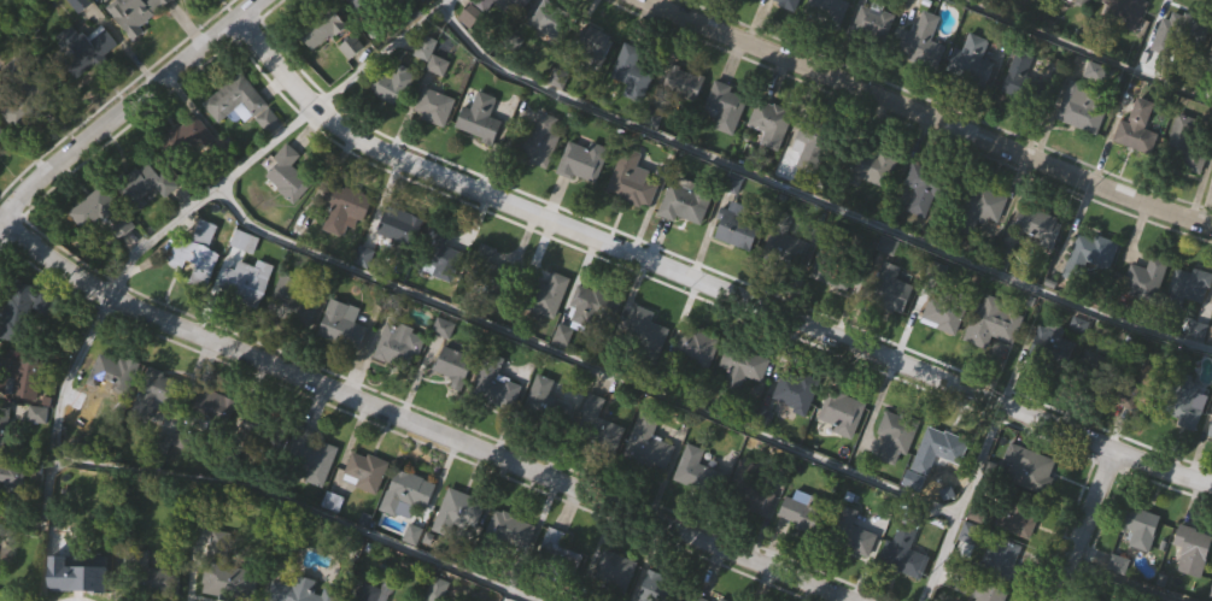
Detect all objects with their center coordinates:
building: (1025, 0)
building: (1081, 1)
building: (519, 2)
building: (786, 2)
building: (362, 4)
building: (485, 5)
building: (827, 10)
building: (135, 11)
building: (1125, 12)
building: (554, 22)
building: (872, 22)
building: (318, 26)
building: (1177, 30)
building: (923, 40)
building: (593, 46)
road: (1082, 52)
building: (971, 59)
building: (1210, 64)
building: (631, 71)
road: (188, 76)
building: (392, 82)
building: (681, 86)
building: (241, 102)
building: (1036, 104)
building: (432, 105)
building: (724, 106)
road: (118, 107)
building: (1082, 107)
road: (930, 117)
building: (479, 118)
building: (768, 120)
building: (1137, 126)
road: (906, 128)
building: (185, 136)
building: (2, 140)
building: (541, 140)
building: (816, 142)
building: (1188, 142)
building: (581, 160)
building: (876, 165)
building: (285, 173)
building: (628, 175)
building: (137, 181)
building: (924, 188)
building: (686, 200)
road: (813, 200)
building: (345, 202)
building: (976, 207)
building: (100, 214)
road: (180, 217)
building: (1037, 224)
building: (736, 226)
building: (397, 228)
building: (244, 240)
building: (784, 243)
building: (443, 247)
building: (197, 253)
building: (1088, 260)
building: (835, 269)
building: (487, 273)
building: (1144, 278)
road: (701, 281)
building: (245, 282)
building: (1189, 283)
building: (889, 290)
building: (548, 295)
building: (292, 304)
building: (592, 305)
building: (18, 312)
building: (941, 312)
building: (993, 322)
building: (340, 324)
building: (644, 334)
building: (399, 347)
building: (693, 347)
building: (1053, 349)
road: (578, 364)
building: (742, 366)
building: (451, 367)
building: (112, 375)
building: (1096, 376)
building: (23, 377)
building: (498, 389)
building: (794, 389)
building: (1142, 389)
building: (159, 391)
building: (549, 396)
building: (1182, 403)
building: (219, 411)
building: (841, 411)
building: (597, 419)
road: (421, 423)
building: (258, 424)
building: (7, 429)
building: (1210, 431)
building: (895, 436)
building: (645, 443)
building: (937, 452)
building: (317, 462)
building: (1026, 469)
building: (363, 471)
building: (11, 476)
building: (718, 481)
building: (410, 489)
road: (1112, 491)
road: (961, 501)
road: (294, 506)
building: (803, 509)
building: (458, 515)
building: (1017, 515)
road: (1083, 524)
building: (1137, 529)
building: (509, 531)
building: (848, 532)
building: (903, 550)
building: (1191, 550)
building: (556, 553)
building: (1001, 558)
building: (1117, 564)
building: (613, 573)
building: (75, 577)
road: (1123, 582)
building: (660, 589)
building: (978, 589)
building: (298, 591)
building: (368, 593)
building: (698, 599)

